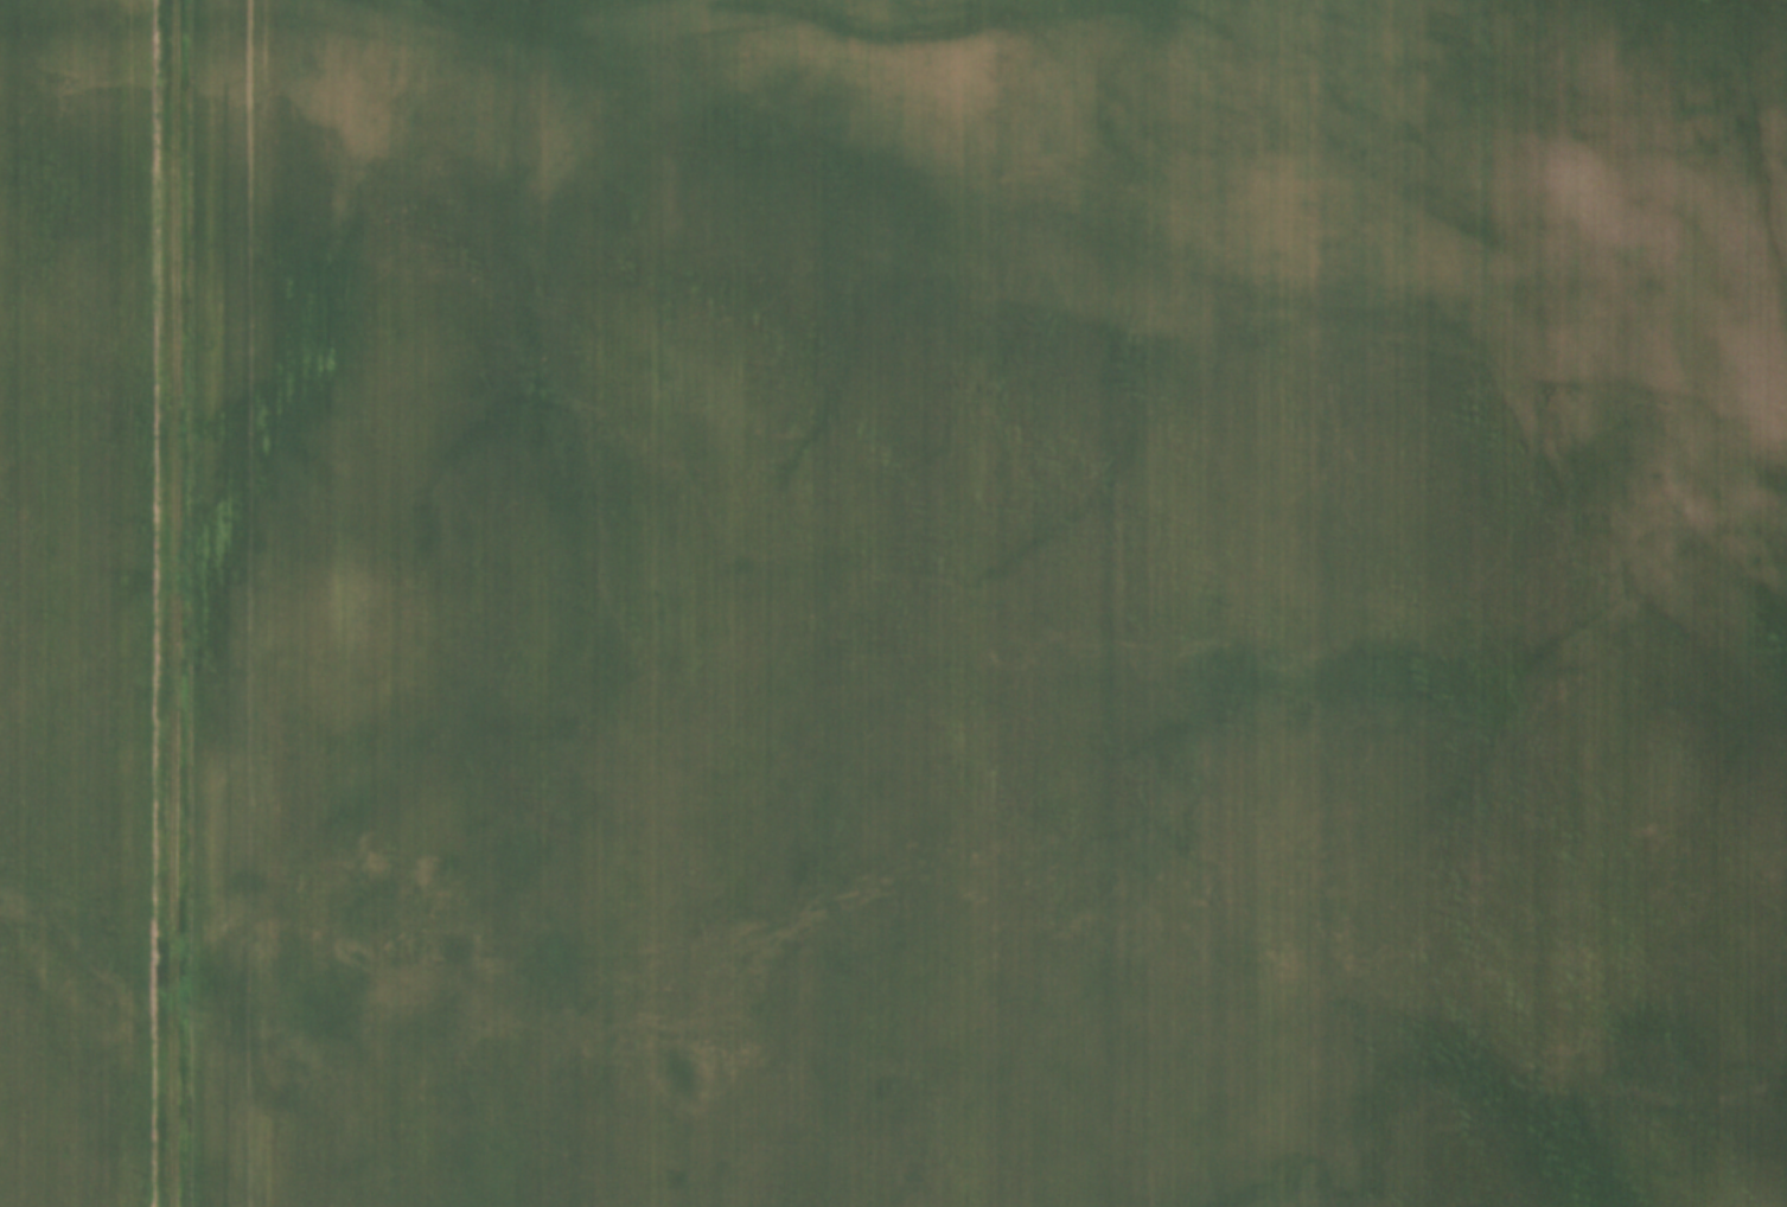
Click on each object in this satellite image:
road: (171, 602)

